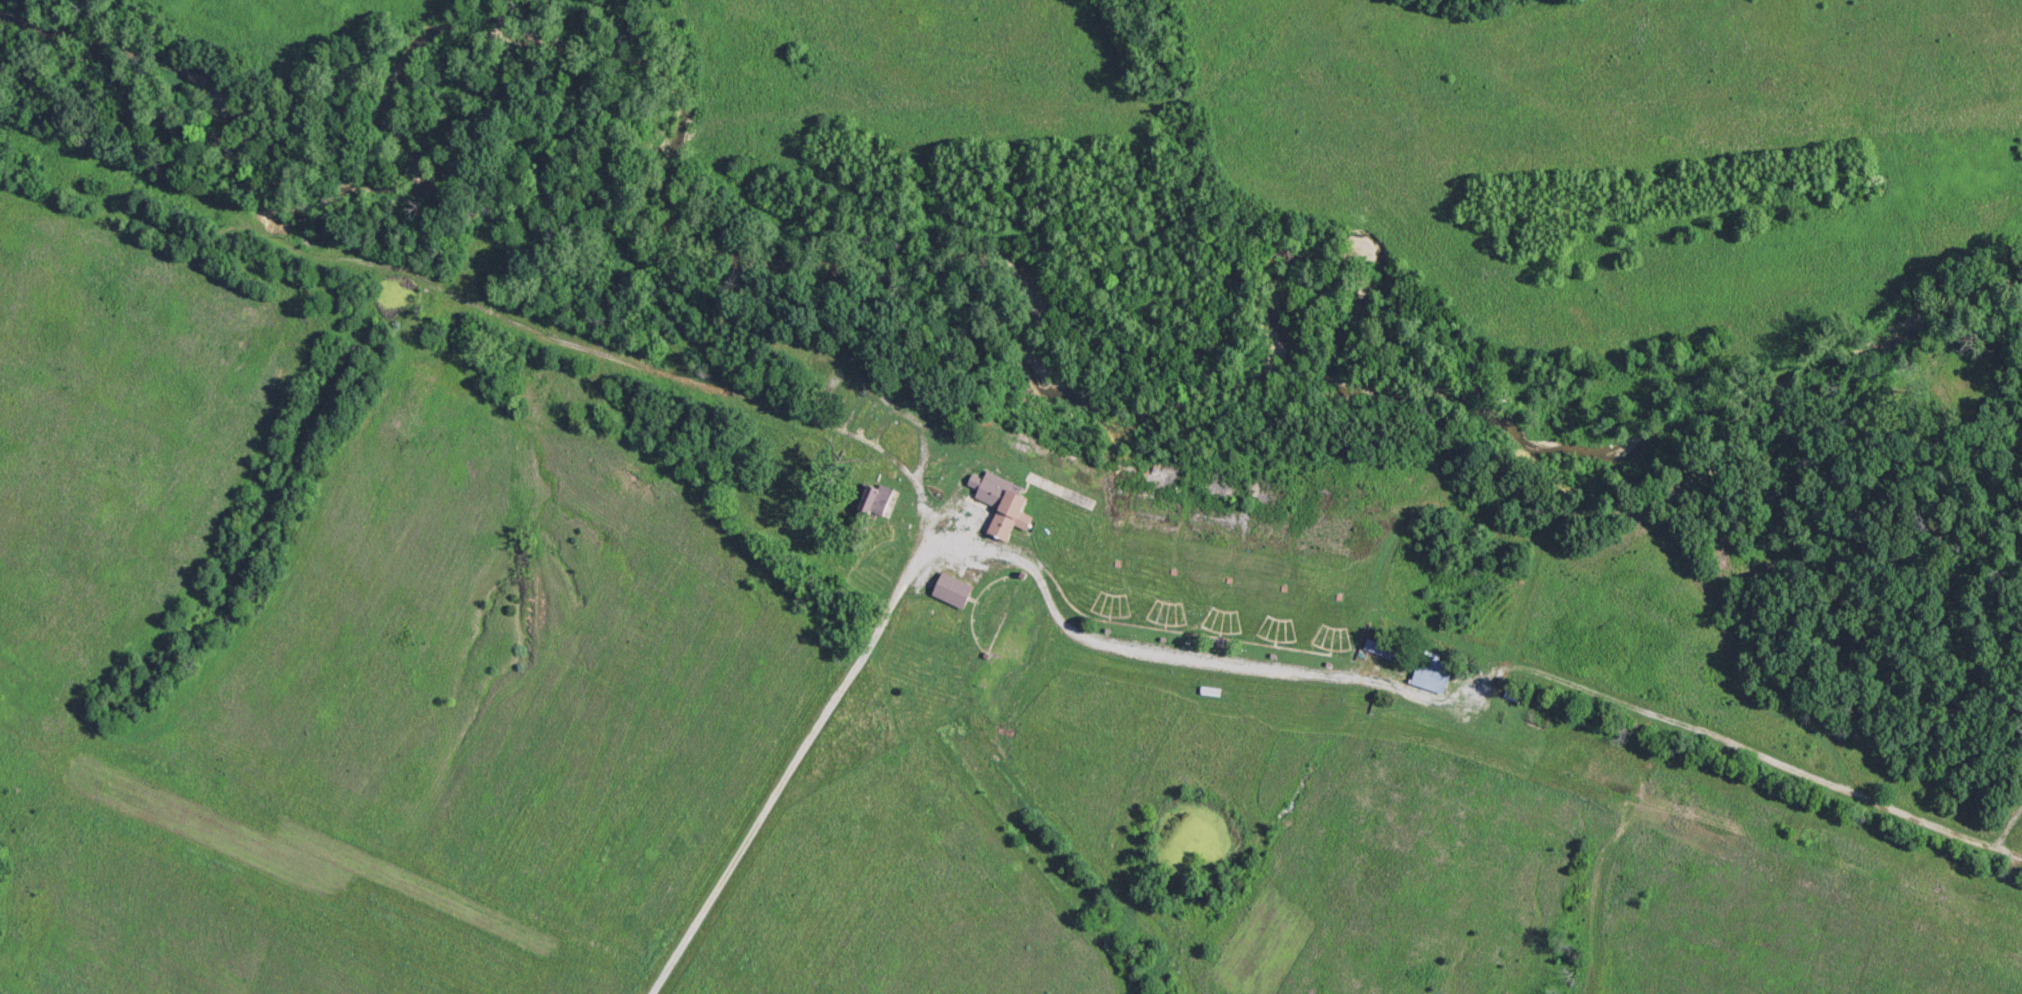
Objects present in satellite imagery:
building: (873, 500)
building: (997, 503)
building: (948, 589)
building: (1429, 672)
road: (808, 746)
park: (3, 853)

